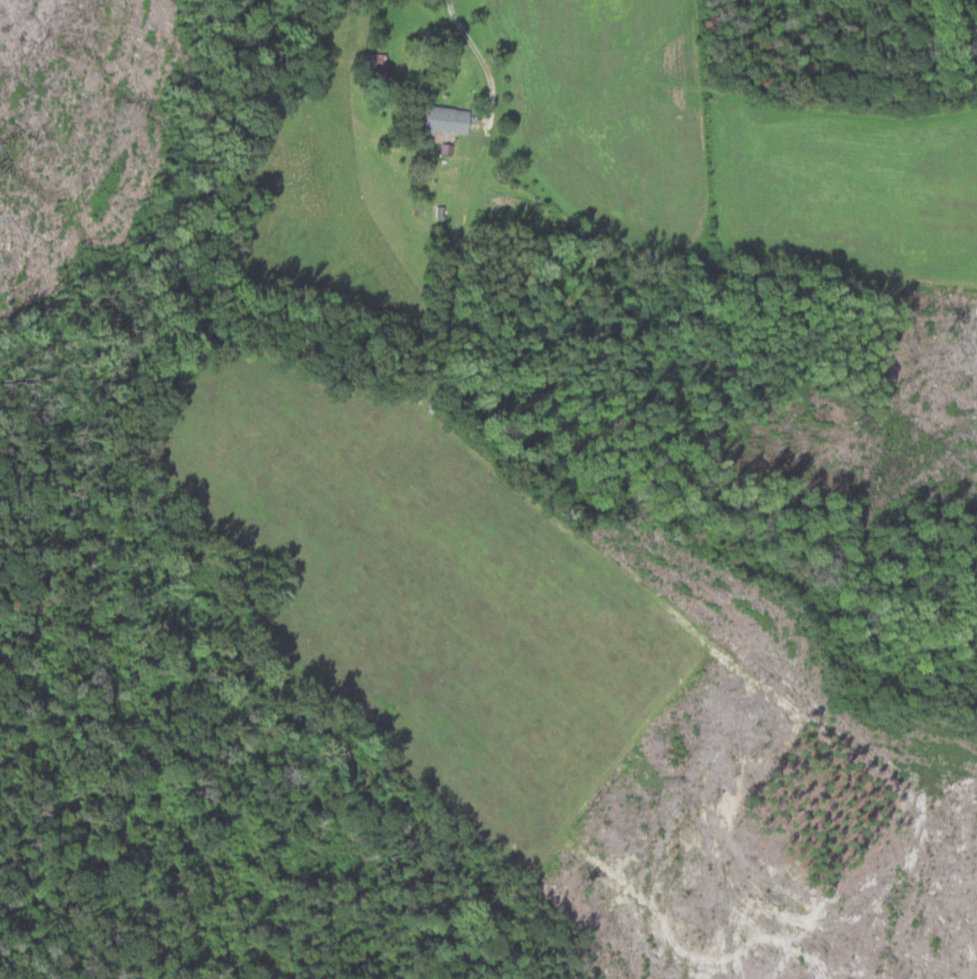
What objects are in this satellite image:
building: (373, 66)
building: (442, 120)

